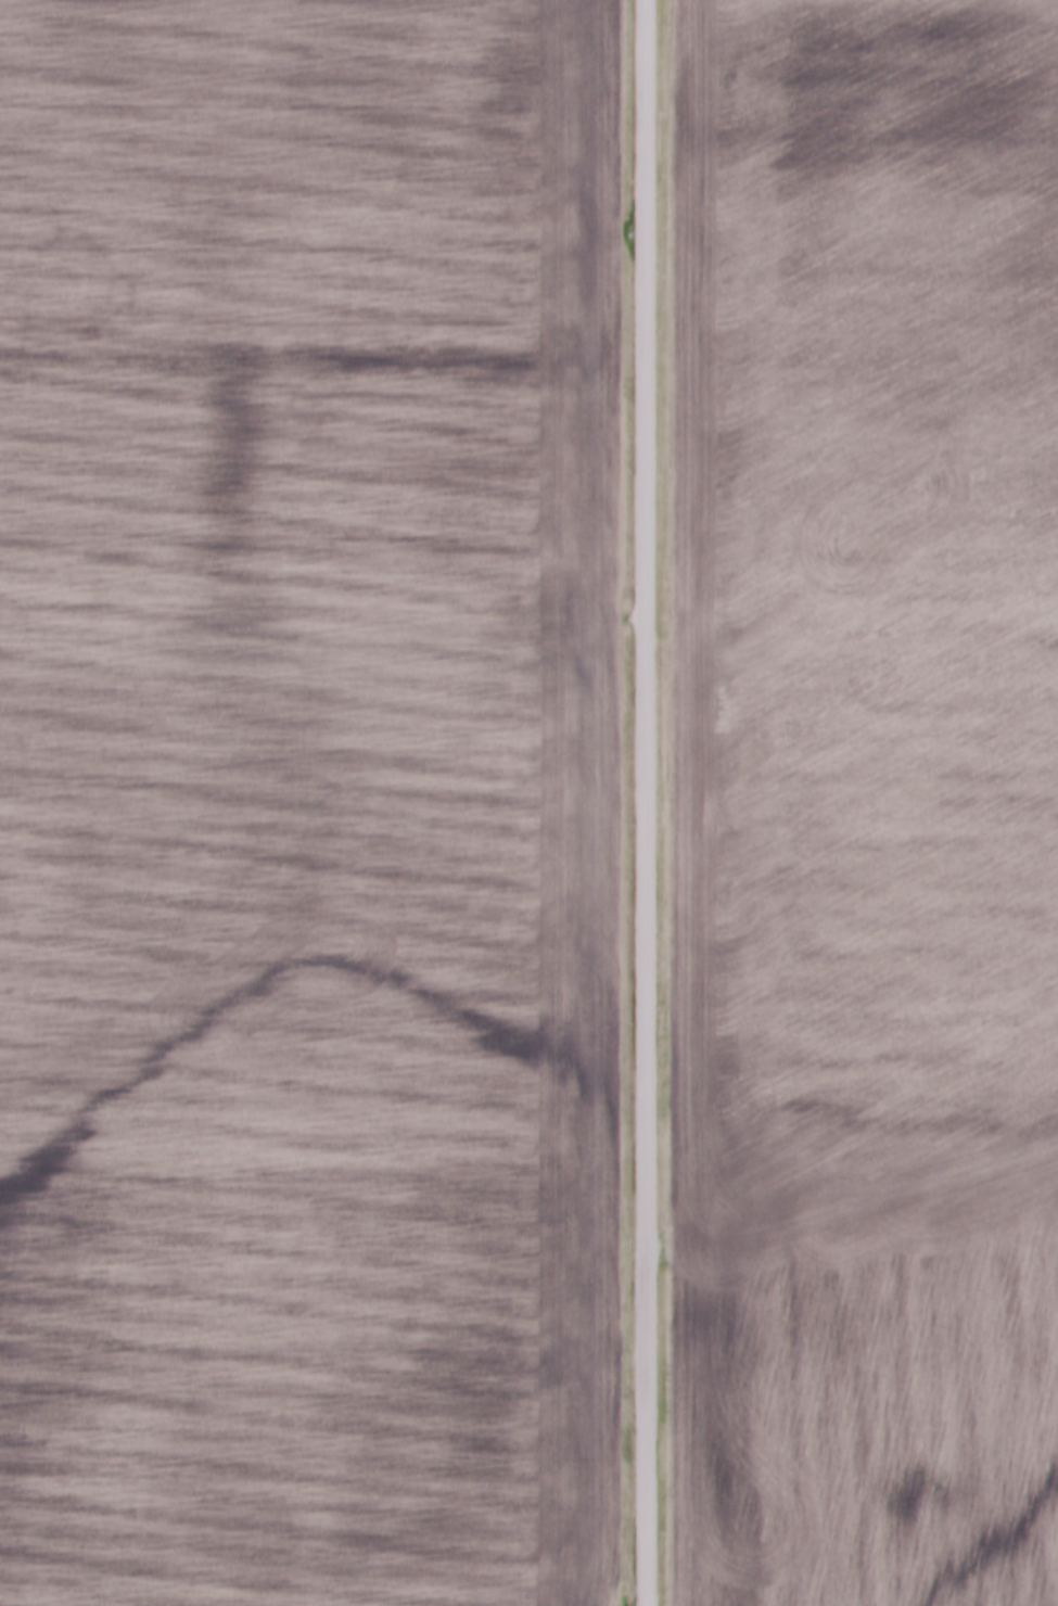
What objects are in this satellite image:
crop: (864, 628)
crop: (309, 802)
road: (650, 803)
crop: (858, 1427)

